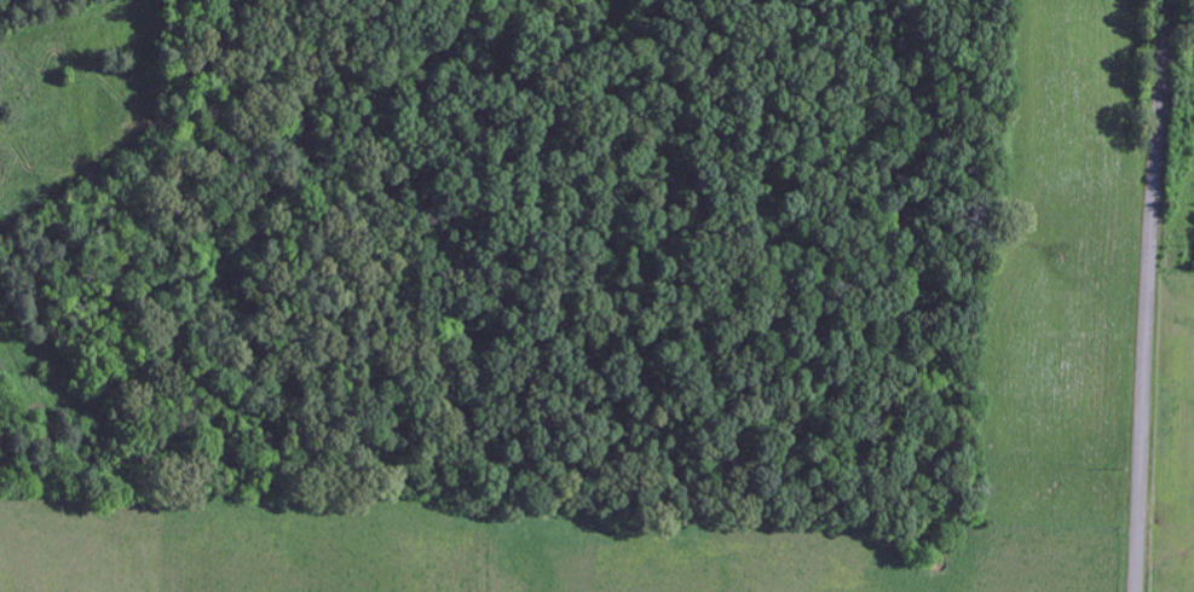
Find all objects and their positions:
road: (1148, 295)

